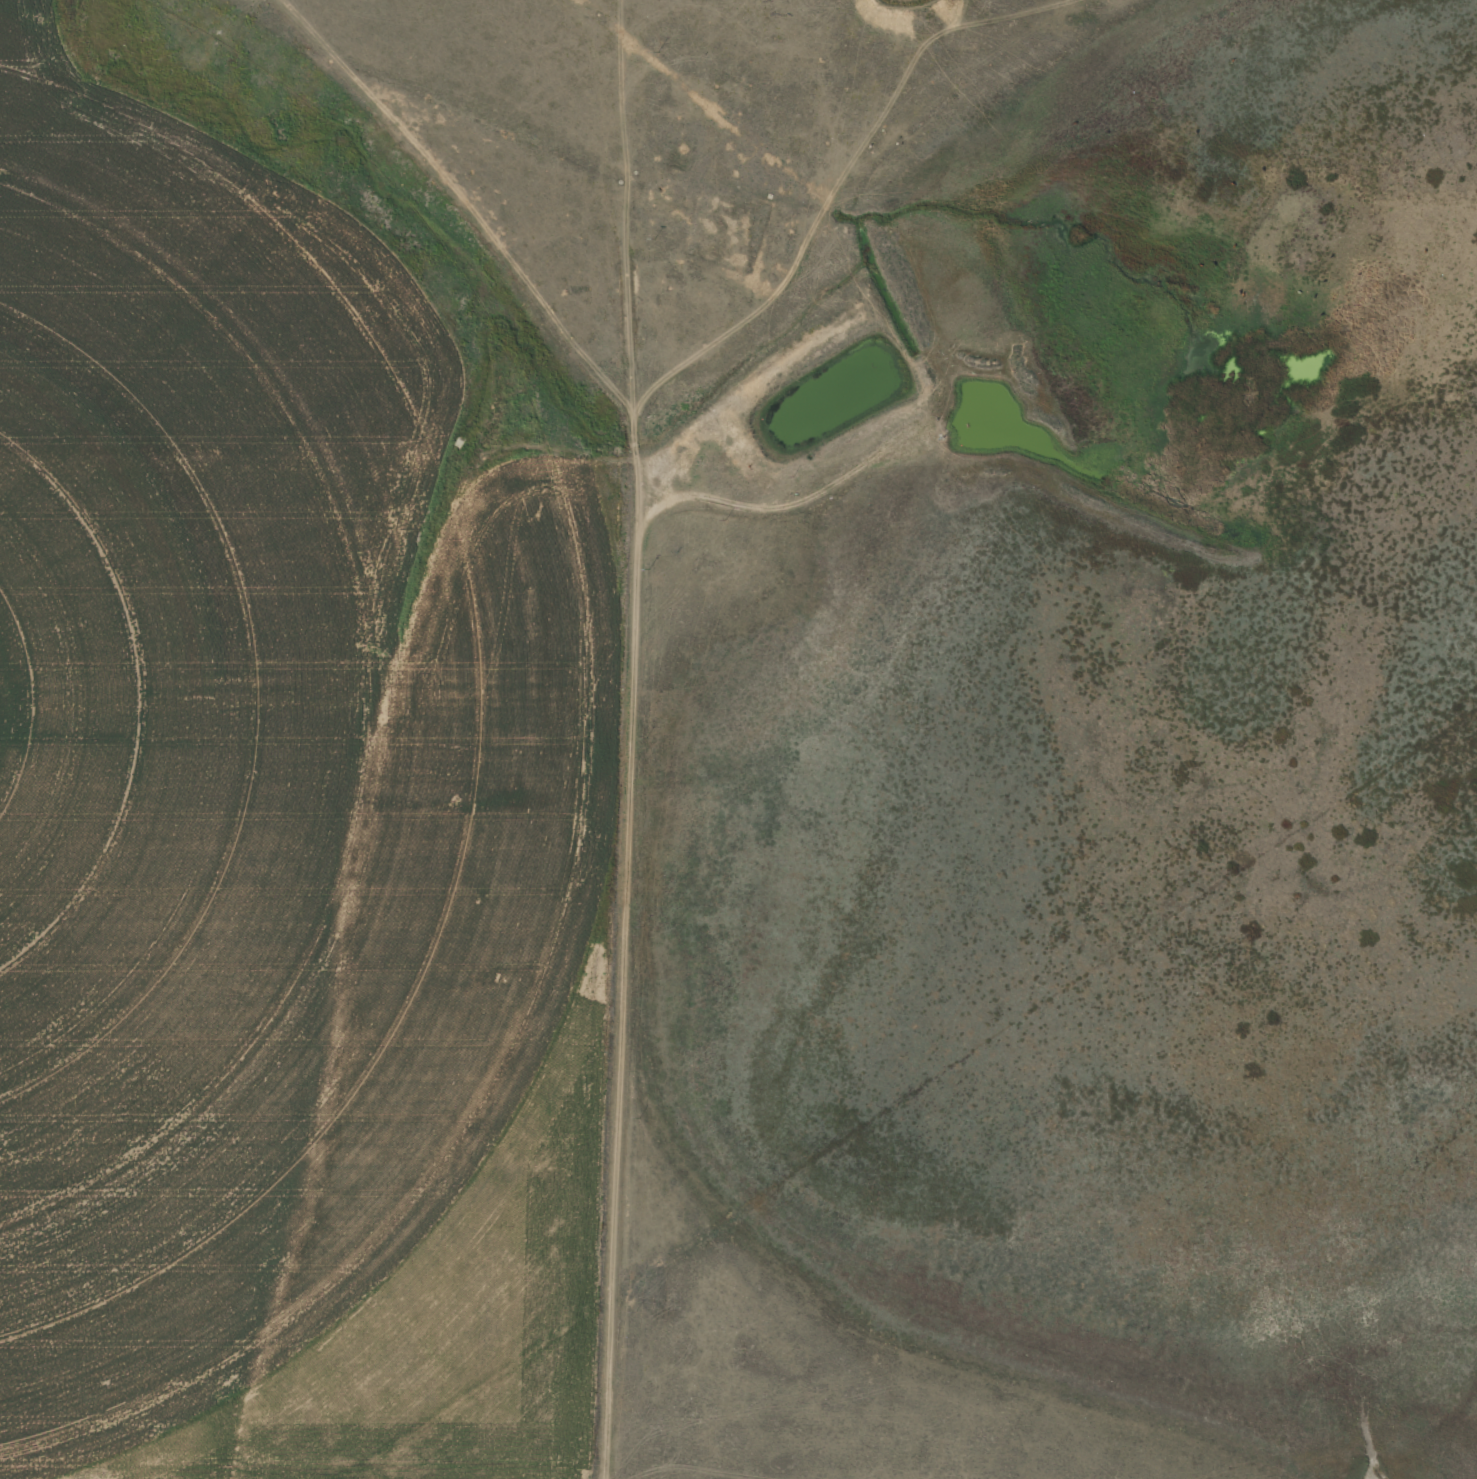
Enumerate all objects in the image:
road: (626, 845)

